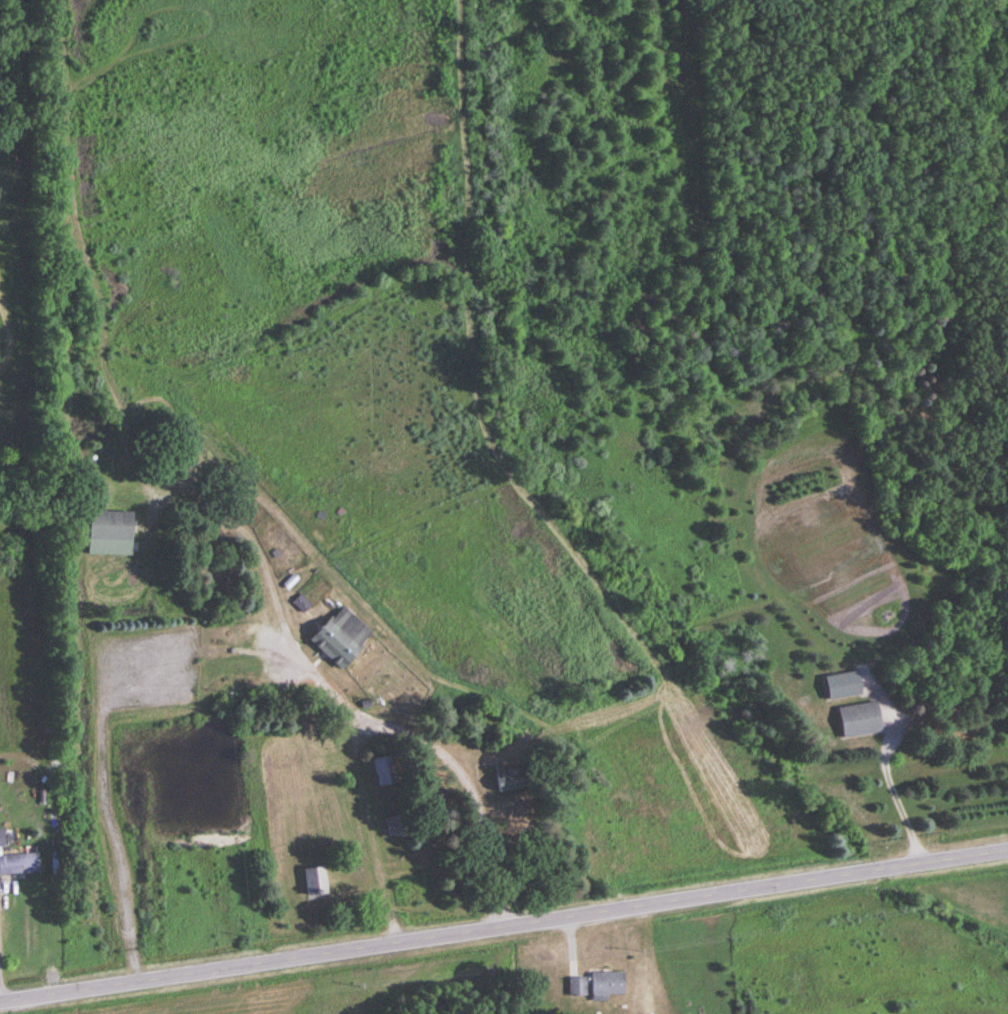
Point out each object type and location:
building: (110, 526)
building: (340, 638)
building: (859, 721)
building: (504, 781)
road: (889, 790)
building: (2, 839)
building: (19, 865)
building: (315, 882)
road: (504, 927)
building: (606, 986)
building: (577, 987)

